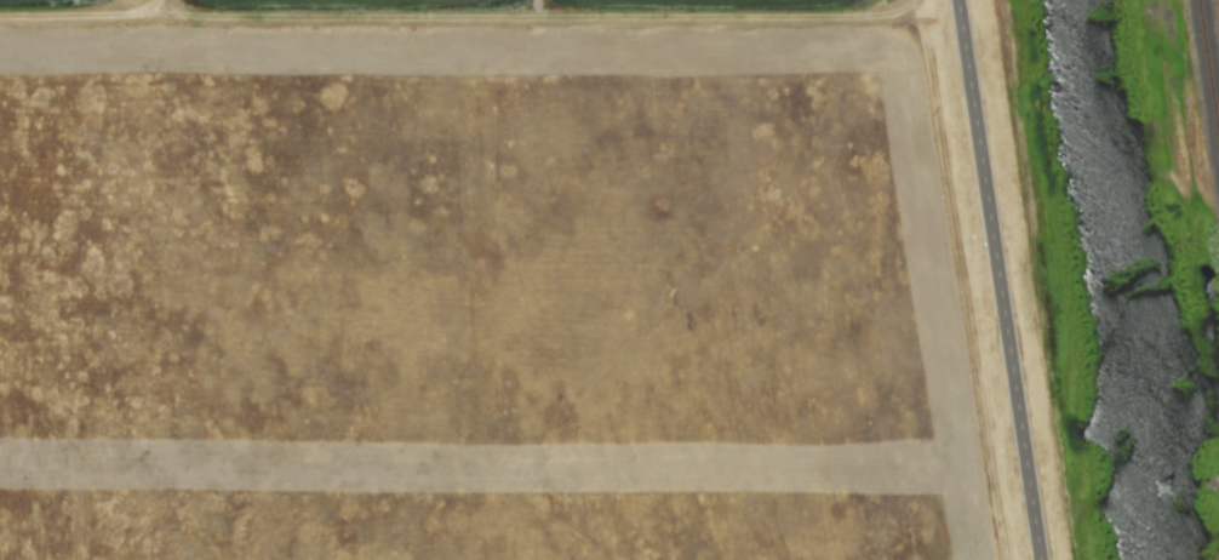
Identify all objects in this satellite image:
railway: (1211, 51)
road: (997, 280)
power tower: (1162, 487)

